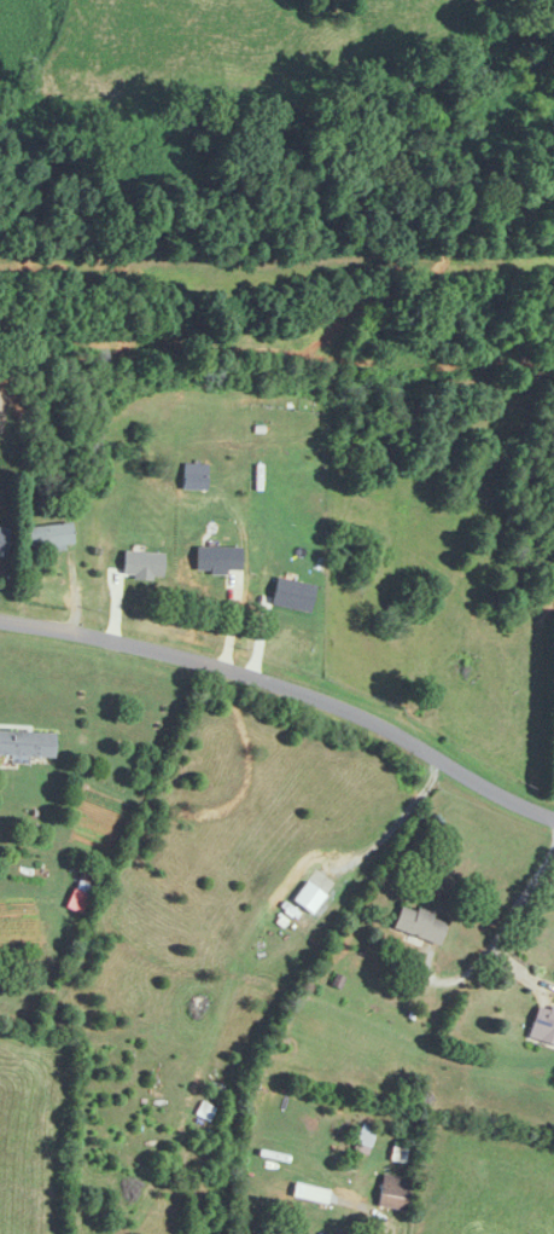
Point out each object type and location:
building: (196, 418)
building: (194, 477)
building: (51, 537)
building: (2, 541)
building: (234, 563)
road: (288, 683)
building: (27, 745)
road: (396, 822)
building: (83, 888)
building: (313, 893)
building: (420, 925)
road: (497, 938)
building: (543, 1024)
building: (393, 1192)
building: (314, 1194)

